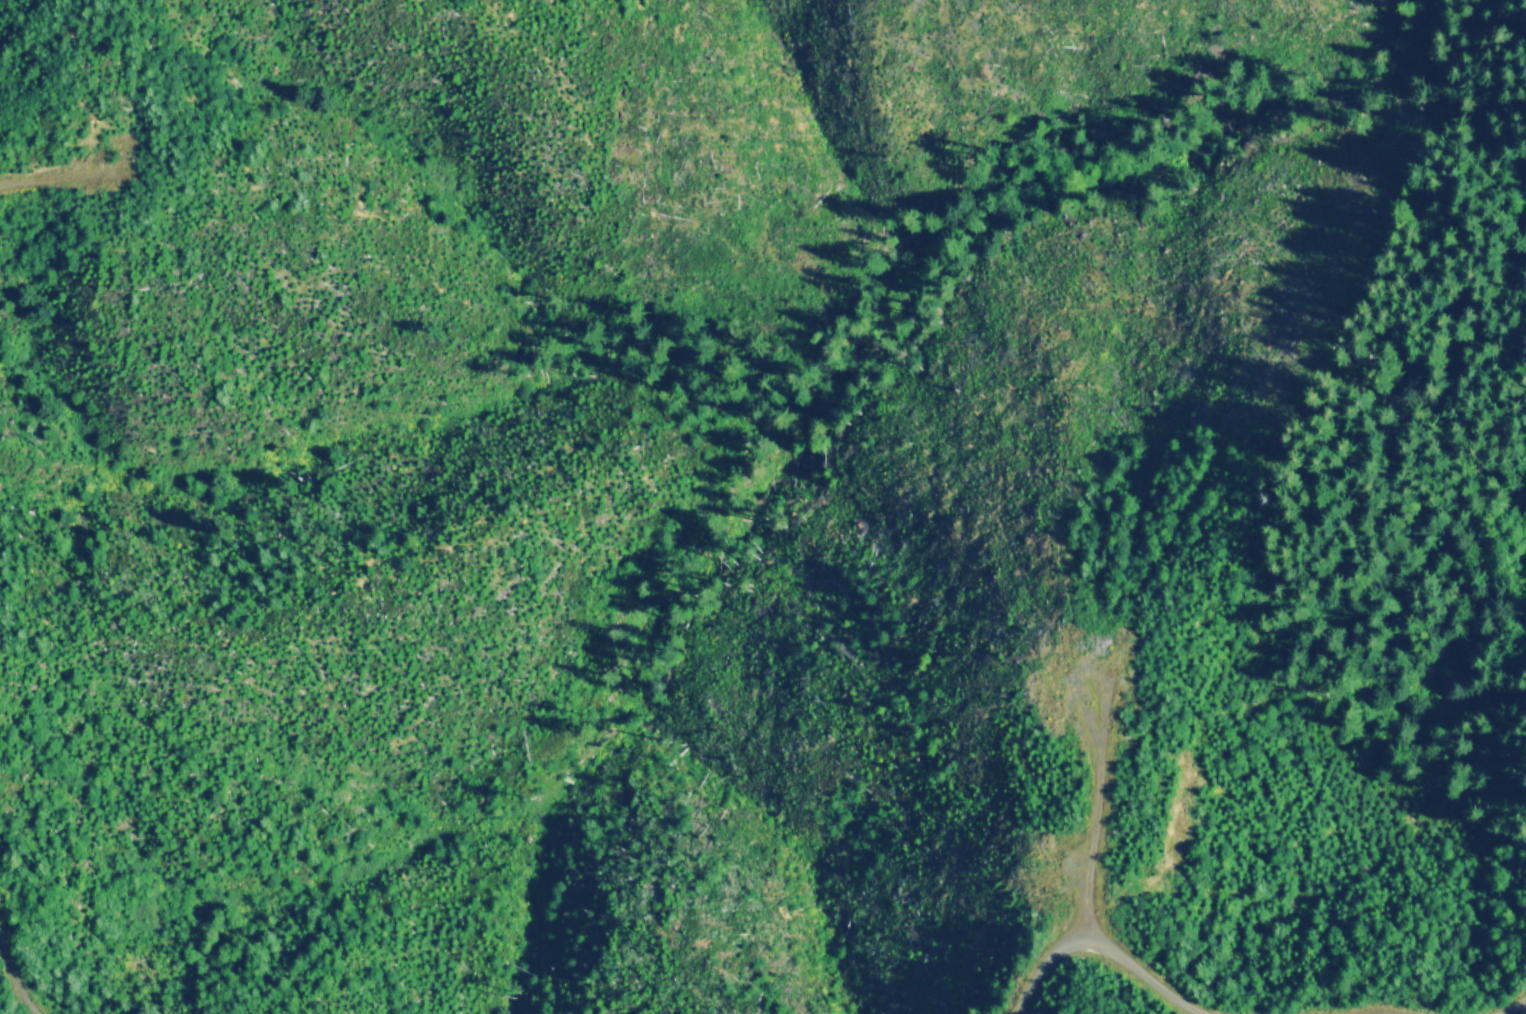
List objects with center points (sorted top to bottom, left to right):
road: (16, 967)
road: (1122, 967)
road: (1507, 1003)

